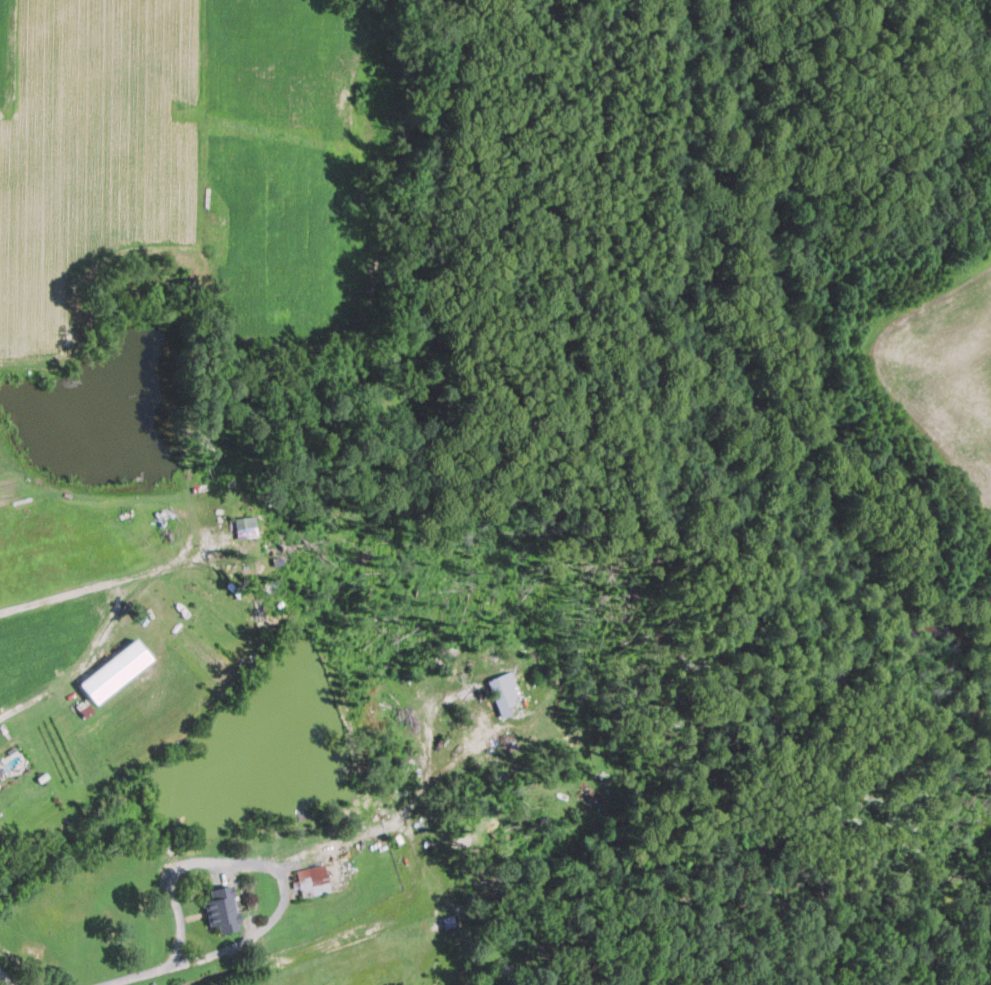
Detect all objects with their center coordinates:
road: (119, 579)
building: (103, 679)
building: (502, 692)
road: (1, 716)
road: (257, 861)
building: (311, 878)
building: (218, 908)
road: (149, 974)
road: (8, 977)

